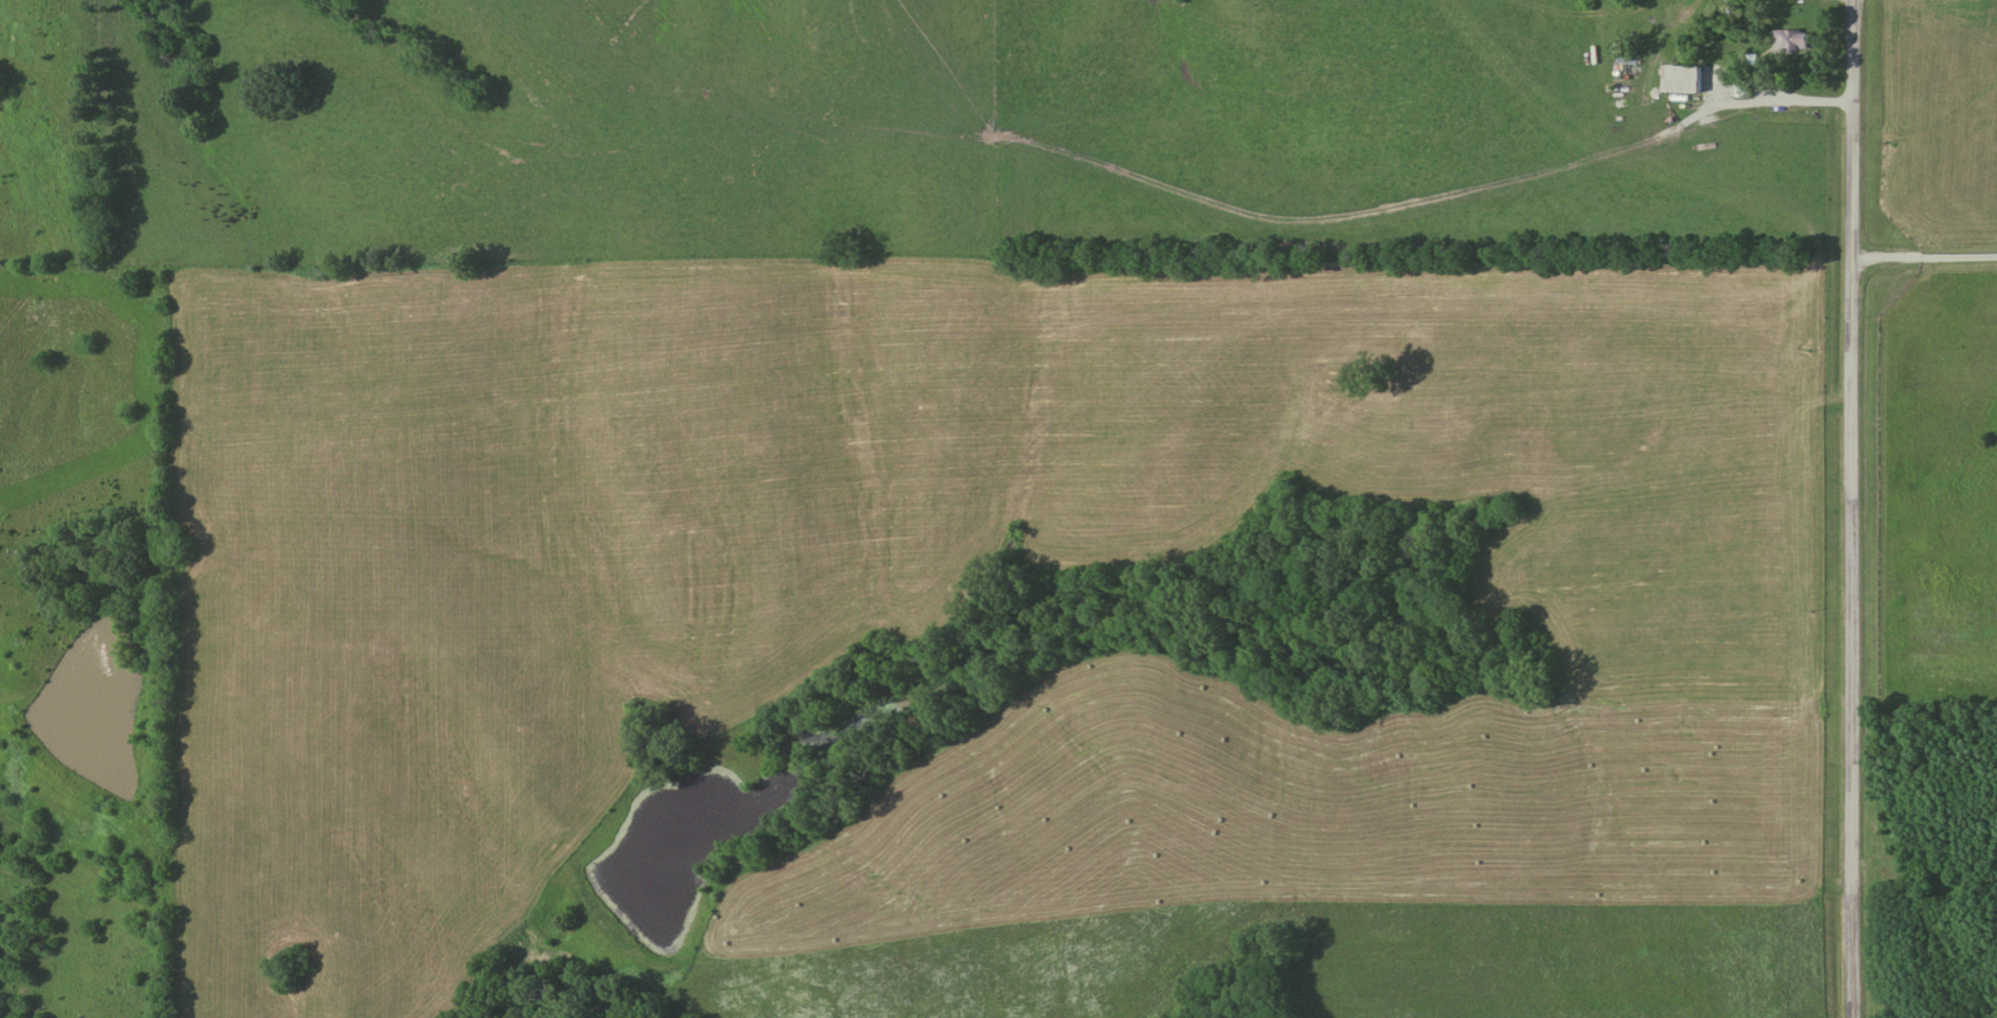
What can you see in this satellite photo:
building: (1789, 41)
building: (1740, 91)
road: (1924, 261)
road: (1850, 509)

